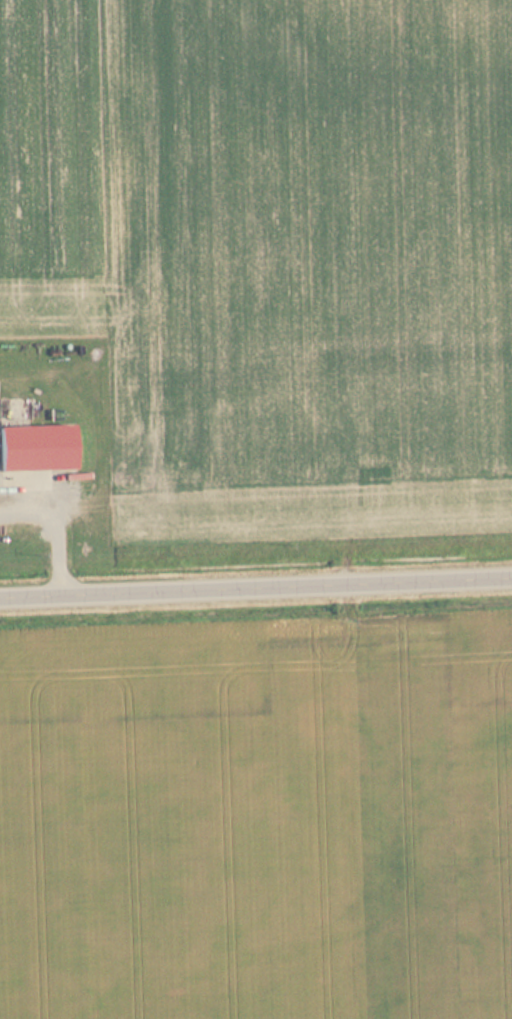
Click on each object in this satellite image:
building: (37, 448)
road: (256, 584)

